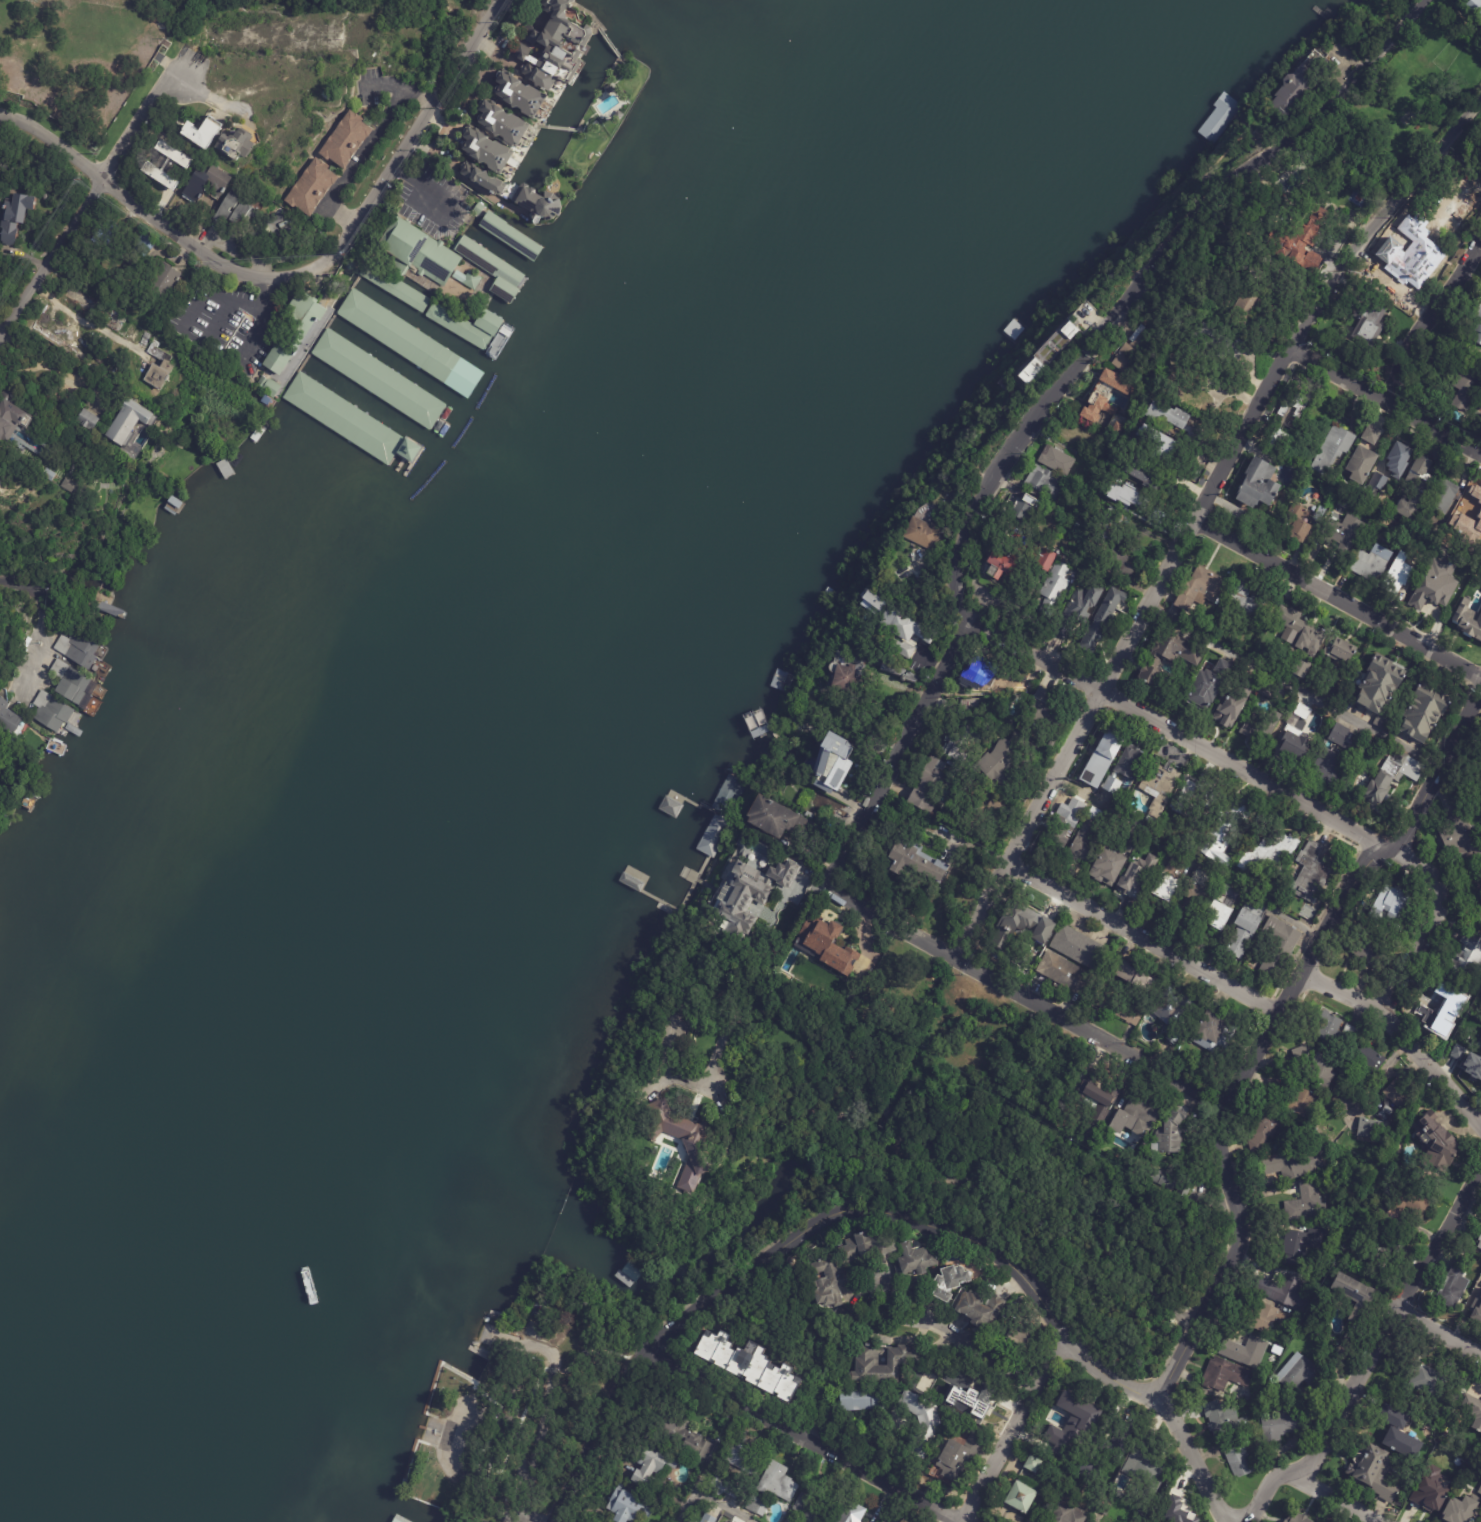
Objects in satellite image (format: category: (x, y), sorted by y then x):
building: (1475, 7)
building: (553, 44)
building: (21, 45)
building: (513, 64)
building: (12, 81)
building: (1301, 86)
building: (520, 92)
road: (149, 114)
building: (503, 121)
building: (1210, 129)
building: (202, 134)
building: (347, 141)
building: (232, 147)
road: (418, 147)
building: (486, 149)
road: (366, 150)
building: (166, 151)
road: (445, 167)
building: (160, 175)
building: (483, 178)
building: (205, 184)
building: (312, 188)
building: (539, 203)
building: (228, 206)
building: (1446, 206)
building: (478, 208)
building: (16, 216)
building: (242, 217)
road: (1379, 219)
building: (269, 227)
building: (102, 234)
building: (1302, 241)
building: (142, 244)
building: (415, 252)
road: (51, 253)
building: (478, 255)
road: (296, 271)
building: (1261, 271)
building: (467, 278)
building: (164, 281)
road: (1145, 281)
building: (393, 287)
building: (1247, 307)
building: (470, 313)
road: (1427, 320)
road: (86, 322)
building: (1367, 324)
building: (463, 325)
building: (295, 326)
building: (1478, 327)
road: (1, 328)
building: (403, 338)
building: (1216, 344)
building: (1050, 350)
building: (1135, 353)
road: (51, 369)
building: (157, 376)
building: (378, 379)
building: (268, 386)
building: (1468, 388)
building: (1108, 394)
building: (1192, 395)
road: (1385, 400)
building: (328, 405)
building: (1289, 417)
building: (10, 418)
building: (1176, 418)
building: (86, 419)
building: (125, 420)
building: (1118, 428)
building: (1373, 433)
building: (1154, 440)
building: (1334, 449)
building: (1394, 456)
building: (1057, 459)
building: (1363, 464)
building: (47, 474)
building: (1144, 476)
building: (1043, 483)
building: (1258, 484)
building: (1418, 485)
building: (72, 486)
building: (1128, 495)
building: (1445, 495)
building: (1023, 510)
building: (1320, 513)
building: (1473, 517)
building: (1426, 518)
road: (1195, 519)
building: (1295, 524)
building: (1108, 528)
building: (1344, 533)
building: (925, 534)
building: (1015, 536)
building: (1480, 558)
building: (1046, 560)
building: (1480, 560)
building: (1373, 562)
building: (1001, 563)
building: (1121, 564)
building: (1399, 574)
building: (1436, 585)
building: (1055, 587)
building: (1200, 589)
road: (1338, 598)
road: (35, 600)
building: (1250, 600)
building: (872, 601)
building: (1079, 609)
building: (1466, 619)
building: (1103, 620)
building: (904, 625)
building: (1301, 631)
building: (77, 648)
building: (899, 648)
building: (1341, 650)
road: (1035, 653)
building: (1170, 654)
building: (1224, 667)
building: (1299, 668)
building: (844, 670)
building: (899, 671)
building: (977, 673)
building: (1379, 683)
building: (73, 684)
road: (1293, 687)
building: (1206, 690)
building: (1272, 691)
building: (1235, 703)
building: (1045, 710)
building: (1424, 711)
building: (50, 712)
building: (1308, 715)
building: (7, 718)
river: (498, 718)
building: (1385, 723)
building: (1007, 724)
building: (1261, 727)
building: (1345, 737)
building: (1368, 741)
building: (1052, 743)
building: (1295, 744)
building: (875, 746)
road: (897, 749)
building: (954, 749)
building: (1002, 759)
building: (1103, 759)
building: (832, 764)
building: (1331, 767)
building: (1126, 769)
road: (1244, 769)
road: (1438, 774)
building: (1392, 778)
building: (1192, 787)
building: (1160, 788)
building: (728, 795)
building: (924, 798)
building: (1181, 807)
building: (776, 819)
road: (1030, 825)
building: (1064, 826)
building: (1223, 836)
building: (1464, 838)
building: (1086, 841)
building: (1130, 844)
building: (1270, 852)
building: (915, 860)
building: (1109, 867)
building: (1312, 873)
building: (1138, 877)
building: (1170, 880)
building: (1270, 890)
building: (751, 897)
building: (1474, 898)
building: (1194, 900)
building: (1392, 906)
building: (1222, 908)
road: (1430, 924)
building: (1022, 927)
building: (1244, 934)
road: (1145, 939)
building: (828, 946)
building: (1279, 946)
building: (1079, 948)
building: (1368, 952)
building: (1467, 958)
building: (1106, 972)
building: (1065, 973)
building: (1138, 980)
road: (1027, 998)
building: (1440, 1002)
building: (1118, 1005)
building: (1176, 1011)
building: (1467, 1022)
building: (1329, 1028)
building: (1480, 1030)
building: (1213, 1033)
building: (1350, 1034)
road: (1402, 1035)
building: (1173, 1040)
building: (1479, 1043)
building: (1457, 1052)
building: (1304, 1053)
building: (1480, 1058)
building: (1479, 1069)
building: (1324, 1070)
building: (1358, 1078)
building: (1279, 1095)
building: (1301, 1103)
road: (1224, 1111)
building: (1386, 1112)
building: (1134, 1121)
building: (1269, 1129)
building: (1172, 1132)
building: (685, 1144)
building: (1436, 1146)
road: (931, 1157)
building: (1297, 1163)
building: (1171, 1182)
building: (1406, 1204)
building: (1307, 1205)
building: (1480, 1239)
building: (1303, 1244)
building: (1480, 1245)
building: (869, 1246)
road: (980, 1246)
building: (1382, 1251)
building: (915, 1259)
building: (830, 1280)
road: (870, 1280)
building: (949, 1282)
building: (1455, 1283)
building: (1286, 1292)
building: (1356, 1299)
building: (1477, 1308)
building: (980, 1309)
road: (892, 1319)
building: (1004, 1319)
building: (1300, 1319)
building: (1268, 1320)
road: (1387, 1321)
road: (664, 1328)
road: (1437, 1333)
building: (1024, 1335)
road: (955, 1338)
building: (1245, 1353)
building: (905, 1359)
building: (1326, 1360)
building: (748, 1363)
building: (1300, 1374)
building: (914, 1376)
building: (1226, 1376)
building: (1427, 1378)
park: (529, 1397)
building: (862, 1399)
building: (964, 1403)
building: (1080, 1410)
road: (1167, 1410)
building: (1471, 1413)
building: (922, 1421)
building: (1225, 1421)
building: (1282, 1427)
road: (1015, 1431)
road: (809, 1432)
building: (1401, 1432)
building: (683, 1435)
building: (865, 1436)
building: (1122, 1442)
building: (1465, 1450)
building: (1443, 1453)
building: (960, 1455)
building: (1239, 1457)
building: (743, 1458)
road: (710, 1459)
building: (652, 1460)
building: (1033, 1463)
building: (1090, 1467)
building: (1377, 1472)
building: (1146, 1475)
building: (1442, 1476)
building: (778, 1482)
building: (728, 1486)
road: (1263, 1491)
building: (1429, 1491)
building: (1480, 1491)
building: (1022, 1496)
road: (1334, 1497)
building: (627, 1505)
building: (756, 1506)
building: (1103, 1508)
building: (1176, 1508)
building: (812, 1509)
building: (1462, 1511)
building: (1068, 1514)
building: (1155, 1515)
building: (847, 1516)
building: (1298, 1517)
building: (708, 1518)
building: (790, 1520)
building: (905, 1520)
building: (1480, 1520)
building: (685, 1521)
building: (900, 1521)

